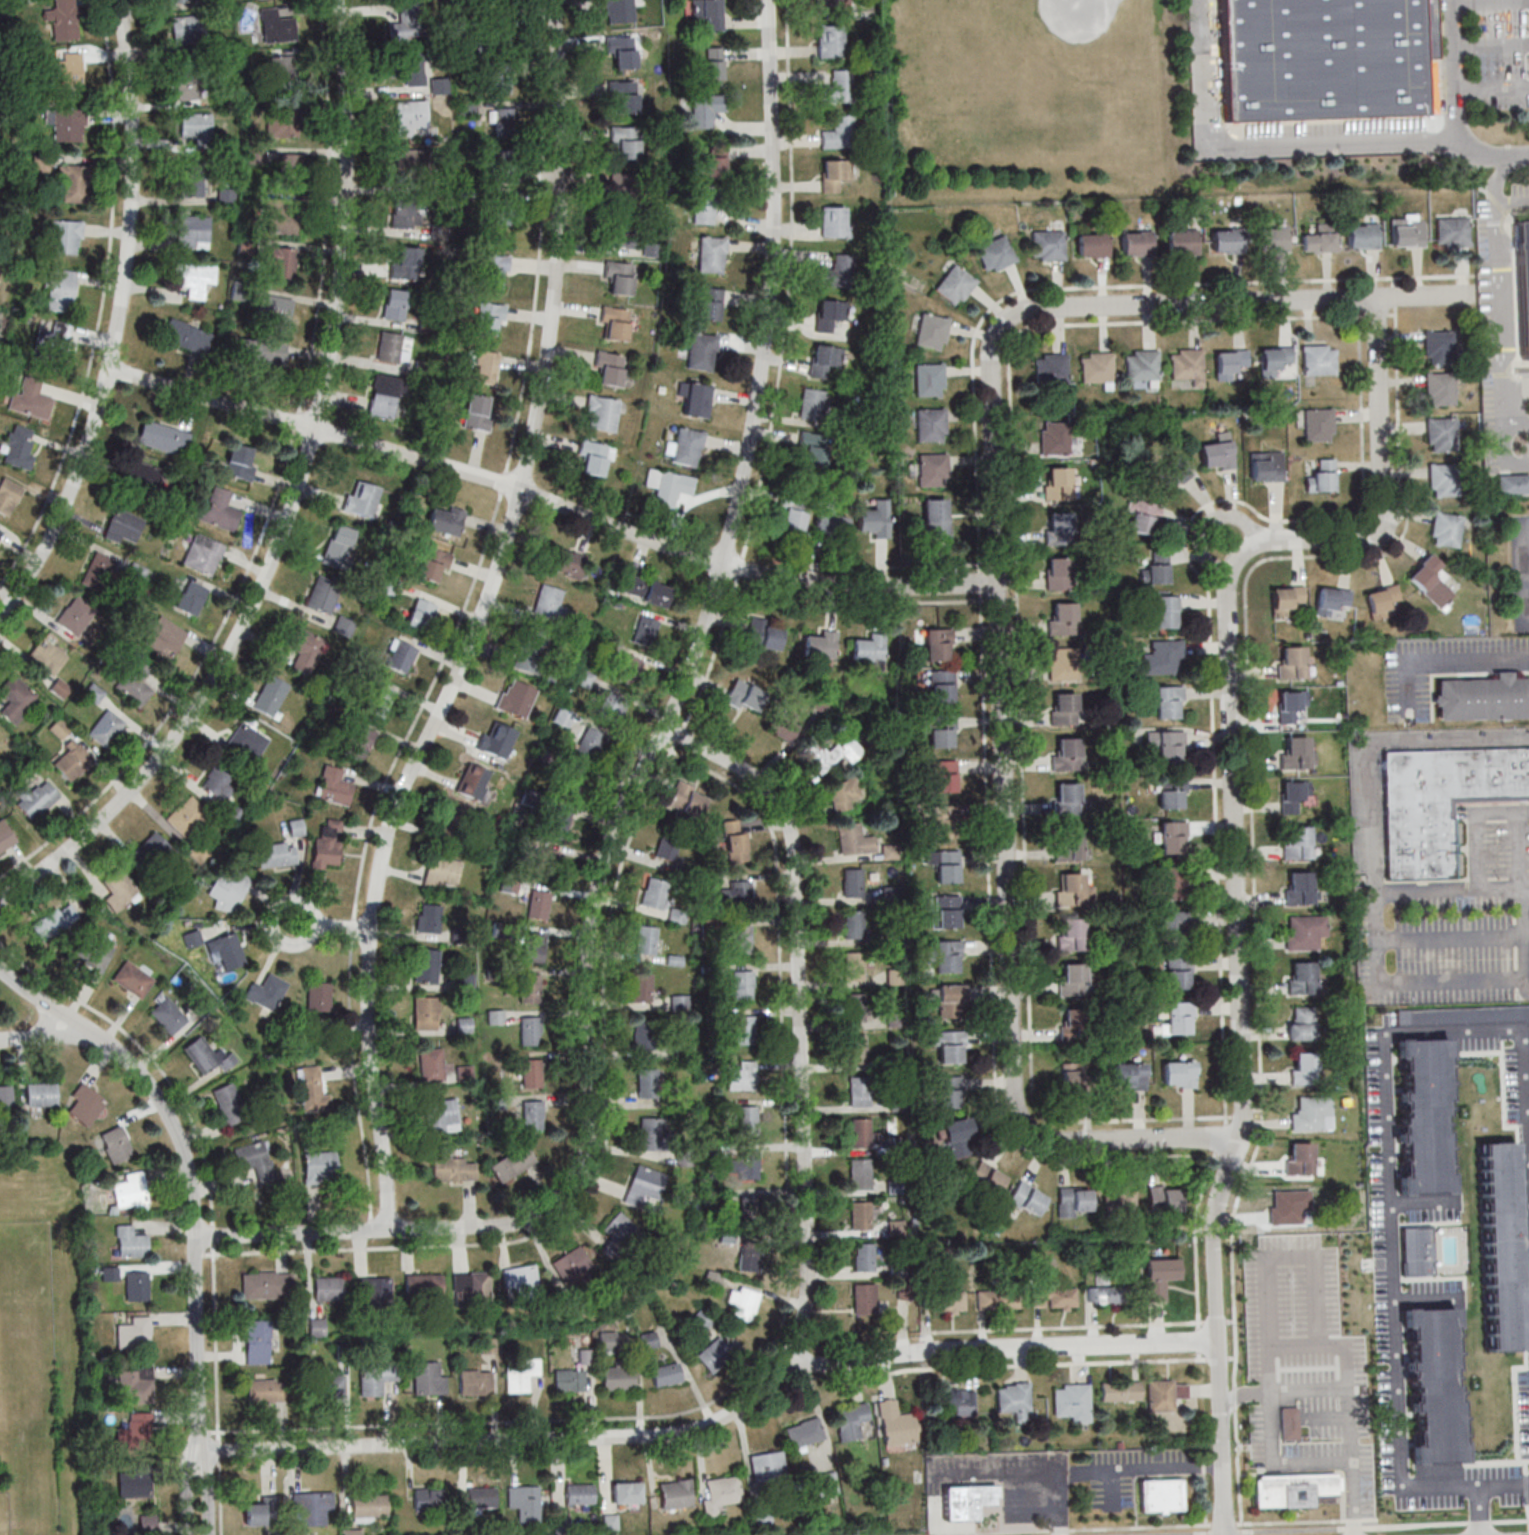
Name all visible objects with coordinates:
building: (175, 1)
building: (834, 6)
building: (619, 11)
building: (708, 13)
building: (63, 19)
building: (408, 22)
building: (277, 24)
building: (188, 31)
building: (831, 40)
park: (1054, 42)
building: (504, 48)
building: (621, 50)
parking lot: (1499, 53)
building: (1318, 58)
building: (712, 63)
building: (408, 67)
building: (282, 72)
building: (190, 82)
road: (1491, 85)
building: (840, 86)
building: (625, 94)
park: (1034, 100)
building: (706, 109)
road: (1454, 109)
building: (410, 118)
building: (281, 121)
building: (507, 122)
building: (196, 128)
building: (840, 132)
building: (626, 140)
road: (1257, 146)
building: (409, 161)
building: (41, 162)
building: (712, 163)
building: (290, 170)
building: (506, 171)
building: (834, 174)
building: (193, 182)
building: (627, 191)
parking lot: (1520, 194)
road: (1513, 201)
building: (506, 206)
building: (703, 207)
building: (281, 215)
building: (405, 215)
building: (834, 221)
building: (1407, 230)
building: (1452, 230)
building: (193, 231)
building: (1363, 235)
building: (65, 237)
building: (1273, 238)
building: (1320, 239)
building: (622, 240)
building: (1227, 240)
building: (1182, 241)
building: (1137, 242)
building: (1093, 244)
building: (1048, 245)
building: (996, 253)
building: (711, 254)
building: (282, 263)
building: (407, 263)
building: (494, 269)
building: (837, 271)
building: (619, 277)
building: (193, 278)
building: (1523, 280)
building: (956, 284)
building: (62, 288)
road: (1501, 300)
road: (1234, 301)
parking lot: (1486, 301)
building: (710, 303)
building: (395, 305)
building: (275, 311)
building: (831, 314)
building: (489, 317)
road: (119, 321)
building: (615, 322)
building: (932, 331)
building: (183, 334)
building: (390, 346)
building: (1439, 347)
building: (702, 351)
building: (264, 352)
building: (1276, 358)
building: (1319, 359)
building: (825, 360)
building: (1230, 363)
building: (1142, 365)
building: (1188, 365)
building: (485, 367)
building: (610, 367)
building: (1051, 368)
building: (1097, 368)
building: (929, 379)
building: (1440, 388)
building: (384, 395)
building: (32, 398)
building: (697, 399)
building: (812, 404)
building: (477, 412)
building: (602, 412)
building: (930, 423)
building: (1319, 424)
building: (1442, 434)
building: (163, 437)
building: (1052, 438)
building: (685, 447)
building: (813, 450)
building: (1218, 453)
building: (594, 457)
building: (239, 463)
building: (1267, 466)
building: (933, 470)
building: (1172, 473)
building: (144, 475)
building: (1322, 476)
building: (1442, 479)
building: (1056, 482)
building: (1512, 484)
building: (668, 486)
building: (9, 496)
road: (552, 498)
building: (364, 499)
road: (295, 501)
building: (219, 510)
building: (794, 516)
building: (1143, 516)
building: (935, 517)
building: (875, 519)
building: (446, 520)
building: (830, 524)
building: (1059, 527)
building: (0, 529)
building: (1447, 529)
building: (339, 545)
road: (1231, 547)
building: (203, 553)
building: (567, 562)
parking lot: (1518, 562)
building: (433, 563)
building: (98, 569)
building: (1156, 569)
road: (1525, 571)
building: (137, 572)
building: (1059, 572)
building: (1432, 580)
building: (645, 589)
building: (323, 594)
building: (192, 597)
building: (1287, 599)
building: (1332, 600)
building: (1383, 600)
building: (549, 602)
building: (1166, 611)
building: (421, 615)
building: (1061, 617)
road: (480, 621)
building: (344, 625)
building: (646, 629)
building: (763, 634)
building: (165, 637)
building: (938, 644)
building: (820, 645)
building: (305, 648)
building: (868, 650)
building: (533, 652)
building: (46, 656)
building: (400, 656)
building: (1163, 657)
building: (1292, 661)
road: (1460, 661)
building: (1061, 663)
building: (629, 666)
building: (135, 685)
building: (941, 686)
building: (94, 692)
building: (271, 695)
building: (744, 696)
building: (16, 698)
building: (516, 698)
building: (1483, 698)
building: (380, 701)
building: (1169, 701)
building: (614, 704)
building: (1292, 707)
building: (1063, 709)
building: (784, 724)
building: (106, 727)
building: (60, 728)
building: (939, 731)
building: (496, 739)
building: (359, 741)
building: (247, 742)
building: (589, 743)
building: (1168, 745)
building: (830, 753)
building: (1299, 753)
building: (1066, 754)
building: (72, 759)
building: (943, 776)
building: (216, 780)
building: (571, 780)
building: (473, 781)
road: (639, 782)
building: (335, 789)
building: (843, 793)
building: (1170, 793)
building: (1293, 797)
building: (34, 798)
building: (687, 798)
building: (1066, 798)
building: (1439, 800)
building: (233, 812)
building: (186, 815)
building: (453, 820)
building: (940, 822)
road: (1475, 822)
building: (556, 824)
building: (296, 826)
building: (6, 836)
road: (1007, 836)
building: (856, 837)
building: (1174, 837)
building: (1298, 843)
building: (668, 844)
building: (1071, 844)
building: (328, 846)
building: (737, 846)
road: (1519, 849)
building: (148, 850)
building: (277, 854)
road: (1373, 855)
building: (546, 860)
road: (1238, 860)
building: (945, 865)
building: (442, 872)
building: (852, 882)
building: (1167, 883)
building: (1300, 887)
road: (1451, 887)
building: (118, 889)
building: (229, 890)
building: (1073, 890)
building: (738, 891)
building: (655, 893)
building: (538, 904)
road: (1521, 910)
building: (945, 911)
building: (60, 918)
building: (429, 918)
parking lot: (1454, 923)
building: (853, 924)
road: (334, 927)
building: (1173, 928)
building: (1305, 932)
building: (1071, 934)
building: (192, 938)
building: (646, 939)
building: (741, 939)
building: (532, 947)
building: (227, 949)
building: (97, 954)
building: (947, 956)
road: (1524, 959)
building: (855, 964)
building: (427, 965)
building: (1178, 972)
building: (1302, 977)
building: (132, 978)
building: (1072, 979)
building: (743, 984)
building: (641, 987)
building: (529, 988)
building: (266, 992)
building: (319, 996)
building: (948, 999)
building: (854, 1008)
building: (426, 1012)
road: (802, 1013)
building: (168, 1015)
building: (496, 1016)
building: (1179, 1017)
building: (1071, 1025)
building: (530, 1030)
building: (745, 1030)
building: (646, 1036)
road: (48, 1037)
building: (949, 1046)
building: (857, 1048)
building: (208, 1055)
building: (432, 1065)
building: (1303, 1068)
building: (531, 1073)
building: (1179, 1074)
building: (1072, 1075)
building: (742, 1076)
building: (1129, 1076)
building: (647, 1082)
building: (310, 1088)
building: (859, 1091)
building: (948, 1091)
building: (40, 1094)
building: (4, 1095)
building: (84, 1103)
building: (229, 1103)
building: (533, 1114)
building: (1312, 1114)
building: (1422, 1115)
building: (442, 1116)
building: (746, 1119)
building: (651, 1133)
building: (862, 1133)
building: (958, 1137)
building: (115, 1144)
building: (1299, 1158)
building: (255, 1159)
building: (512, 1163)
building: (747, 1164)
building: (320, 1167)
building: (454, 1168)
building: (860, 1174)
building: (987, 1178)
building: (642, 1185)
building: (894, 1187)
building: (128, 1193)
road: (210, 1193)
building: (1027, 1198)
building: (1165, 1198)
building: (1072, 1201)
building: (1119, 1201)
building: (1289, 1205)
road: (195, 1207)
building: (750, 1209)
building: (860, 1215)
road: (1391, 1222)
building: (896, 1228)
building: (621, 1236)
building: (130, 1242)
building: (1501, 1246)
building: (1418, 1252)
building: (863, 1256)
building: (749, 1259)
building: (571, 1264)
building: (109, 1273)
building: (1159, 1277)
building: (521, 1279)
building: (712, 1279)
building: (1252, 1284)
building: (137, 1285)
building: (267, 1285)
building: (423, 1285)
building: (472, 1286)
building: (328, 1288)
building: (374, 1289)
road: (1317, 1293)
building: (1106, 1294)
building: (1054, 1297)
building: (864, 1298)
building: (998, 1299)
building: (945, 1300)
building: (742, 1302)
building: (700, 1320)
building: (316, 1327)
building: (134, 1331)
building: (257, 1342)
building: (607, 1342)
road: (1294, 1347)
building: (713, 1354)
building: (520, 1373)
building: (665, 1374)
building: (429, 1377)
building: (618, 1377)
building: (377, 1378)
building: (569, 1380)
building: (475, 1382)
building: (1432, 1383)
building: (135, 1384)
building: (333, 1386)
building: (265, 1390)
building: (1120, 1390)
building: (1165, 1394)
building: (1014, 1399)
building: (958, 1400)
building: (1071, 1401)
road: (722, 1420)
building: (850, 1421)
building: (1289, 1423)
building: (896, 1424)
building: (135, 1430)
building: (804, 1433)
road: (1278, 1463)
building: (767, 1465)
road: (1150, 1465)
building: (827, 1483)
building: (134, 1485)
building: (1296, 1489)
building: (625, 1492)
building: (720, 1492)
building: (580, 1493)
building: (675, 1493)
building: (1161, 1495)
building: (427, 1497)
building: (481, 1498)
building: (966, 1501)
building: (525, 1502)
building: (312, 1507)
building: (369, 1507)
building: (262, 1511)
road: (1481, 1511)
building: (610, 1521)
building: (561, 1522)
building: (147, 1523)
road: (1338, 1527)
building: (350, 1531)

